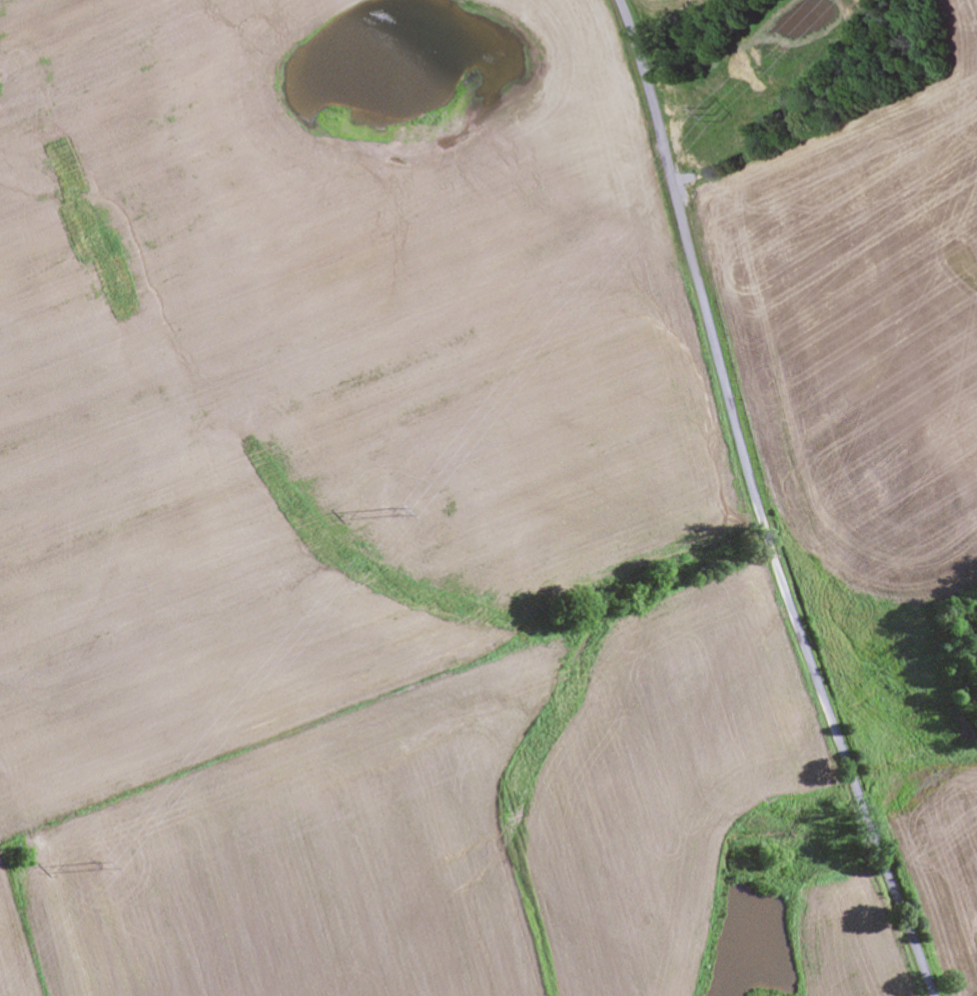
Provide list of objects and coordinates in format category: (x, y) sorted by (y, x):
road: (756, 503)

